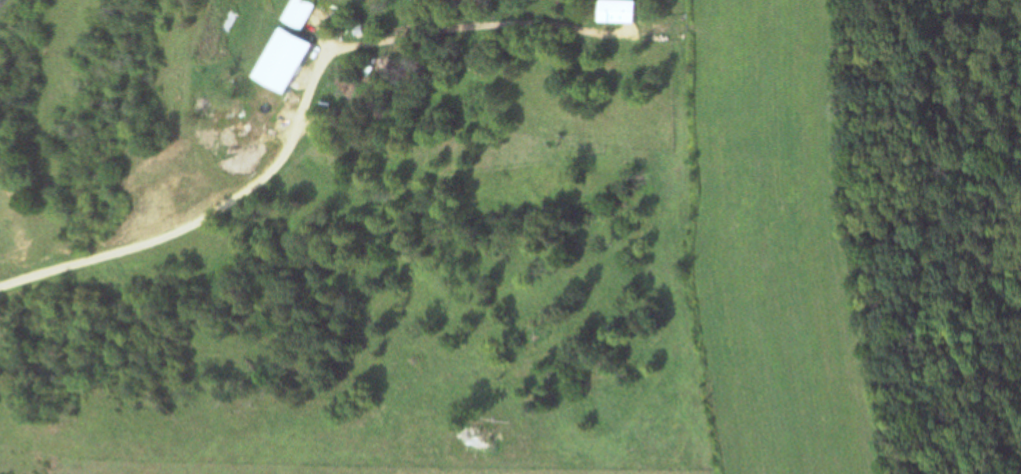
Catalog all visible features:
road: (301, 235)

